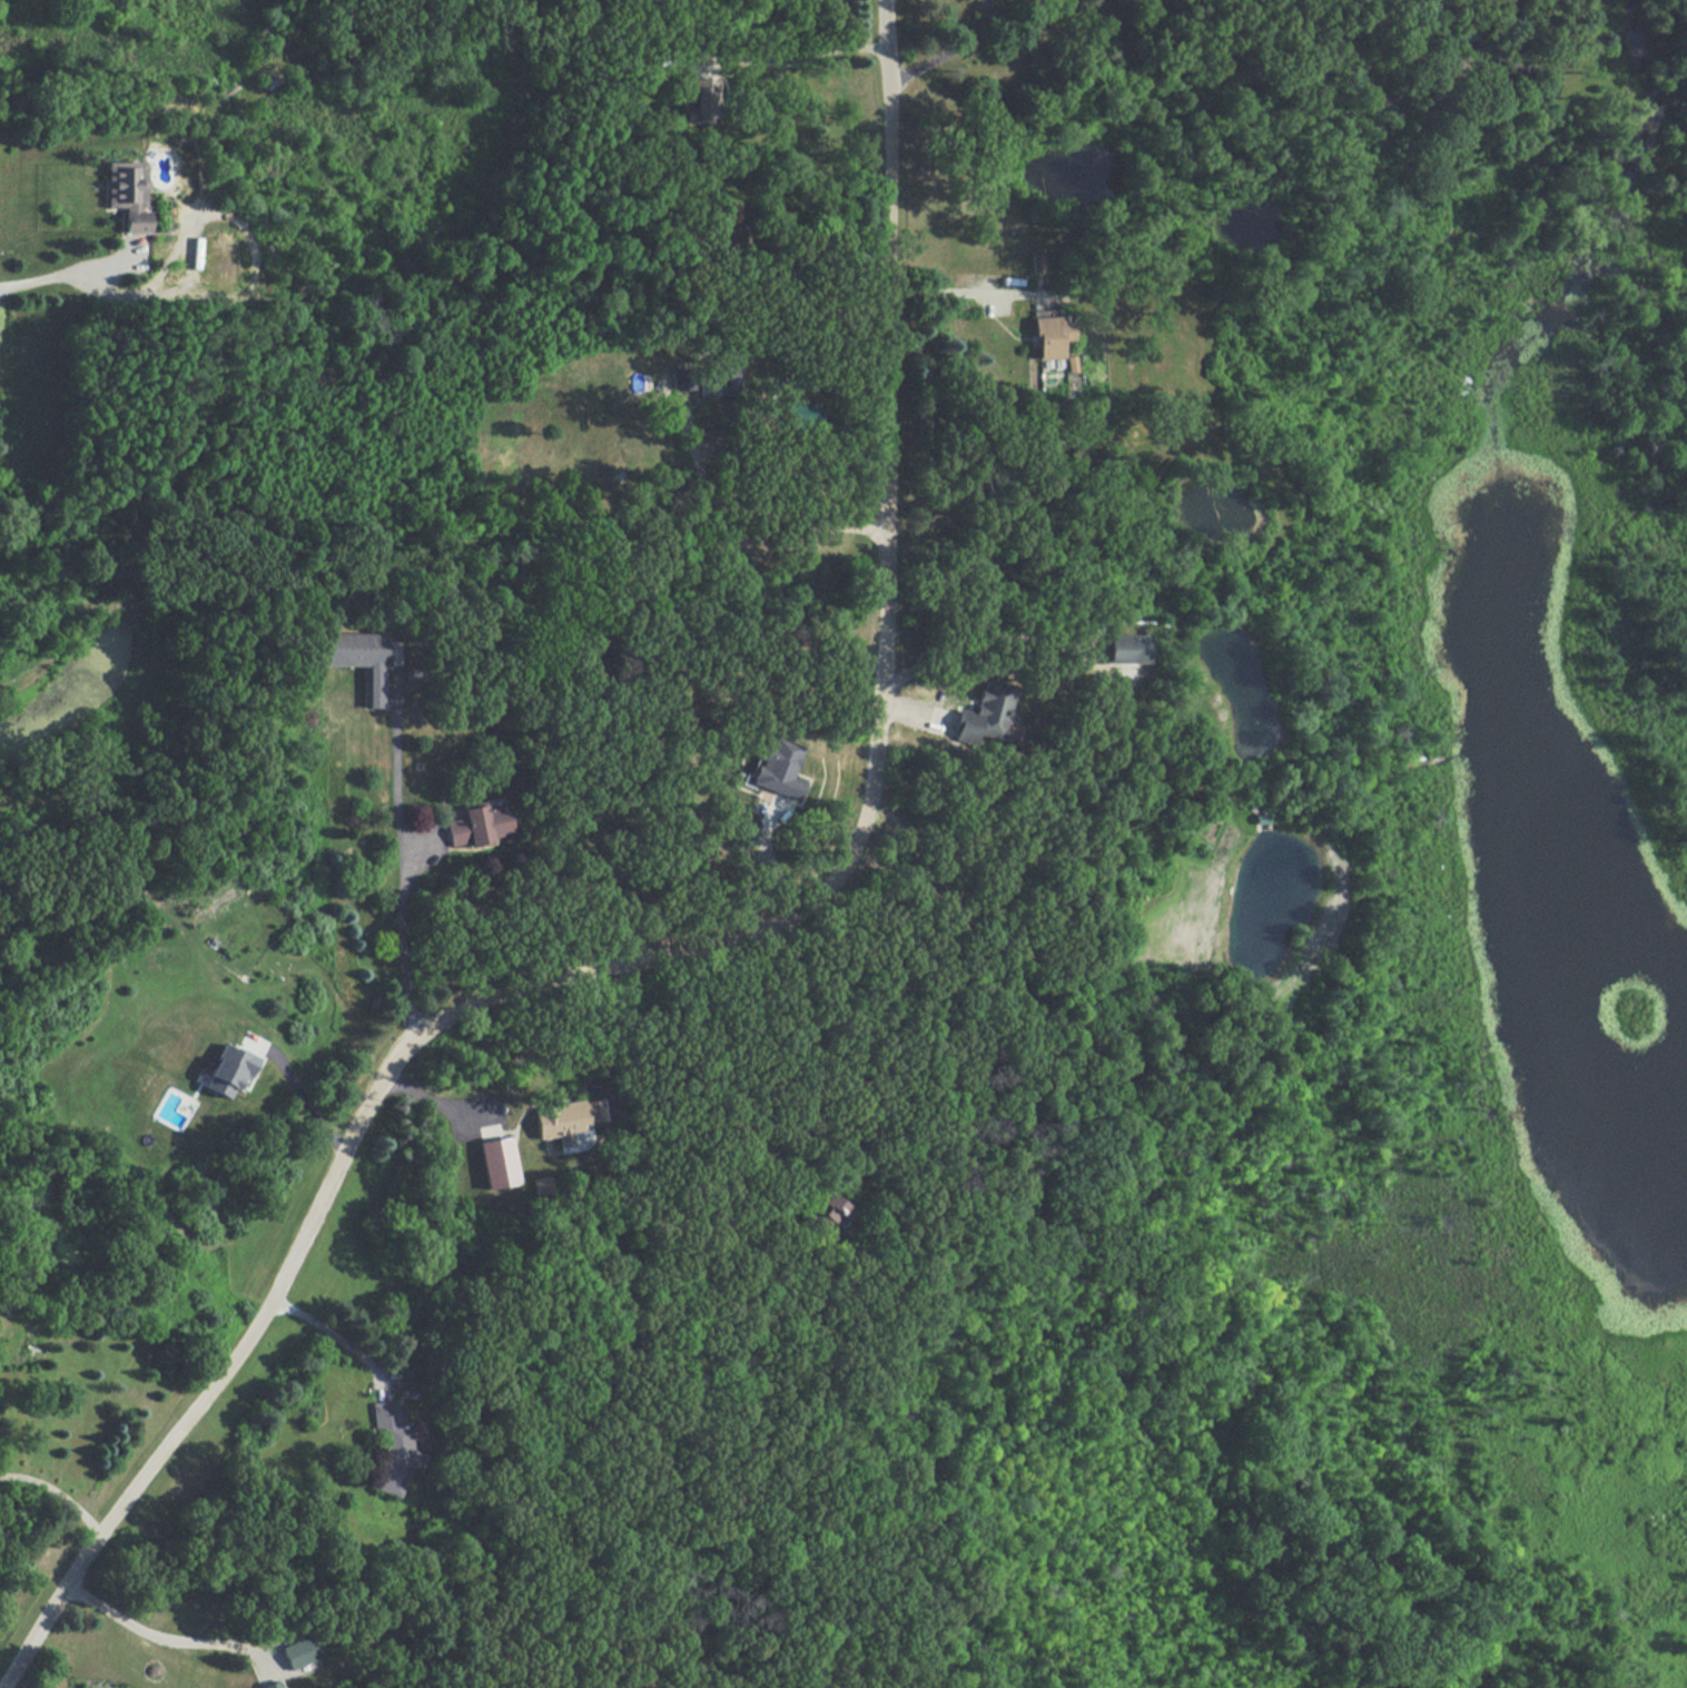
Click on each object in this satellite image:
road: (1516, 46)
road: (801, 61)
road: (916, 66)
building: (702, 100)
building: (127, 193)
building: (728, 224)
road: (816, 259)
road: (70, 272)
road: (949, 292)
building: (1049, 332)
building: (704, 379)
building: (805, 413)
road: (747, 533)
road: (978, 639)
building: (1128, 646)
building: (365, 658)
building: (986, 714)
building: (778, 768)
building: (479, 825)
building: (742, 838)
road: (401, 869)
road: (645, 959)
road: (598, 1034)
road: (709, 1066)
building: (229, 1069)
road: (306, 1088)
building: (568, 1122)
building: (497, 1161)
building: (543, 1183)
building: (829, 1210)
road: (335, 1332)
building: (393, 1447)
road: (56, 1491)
road: (158, 1635)
building: (299, 1651)
building: (272, 1685)

